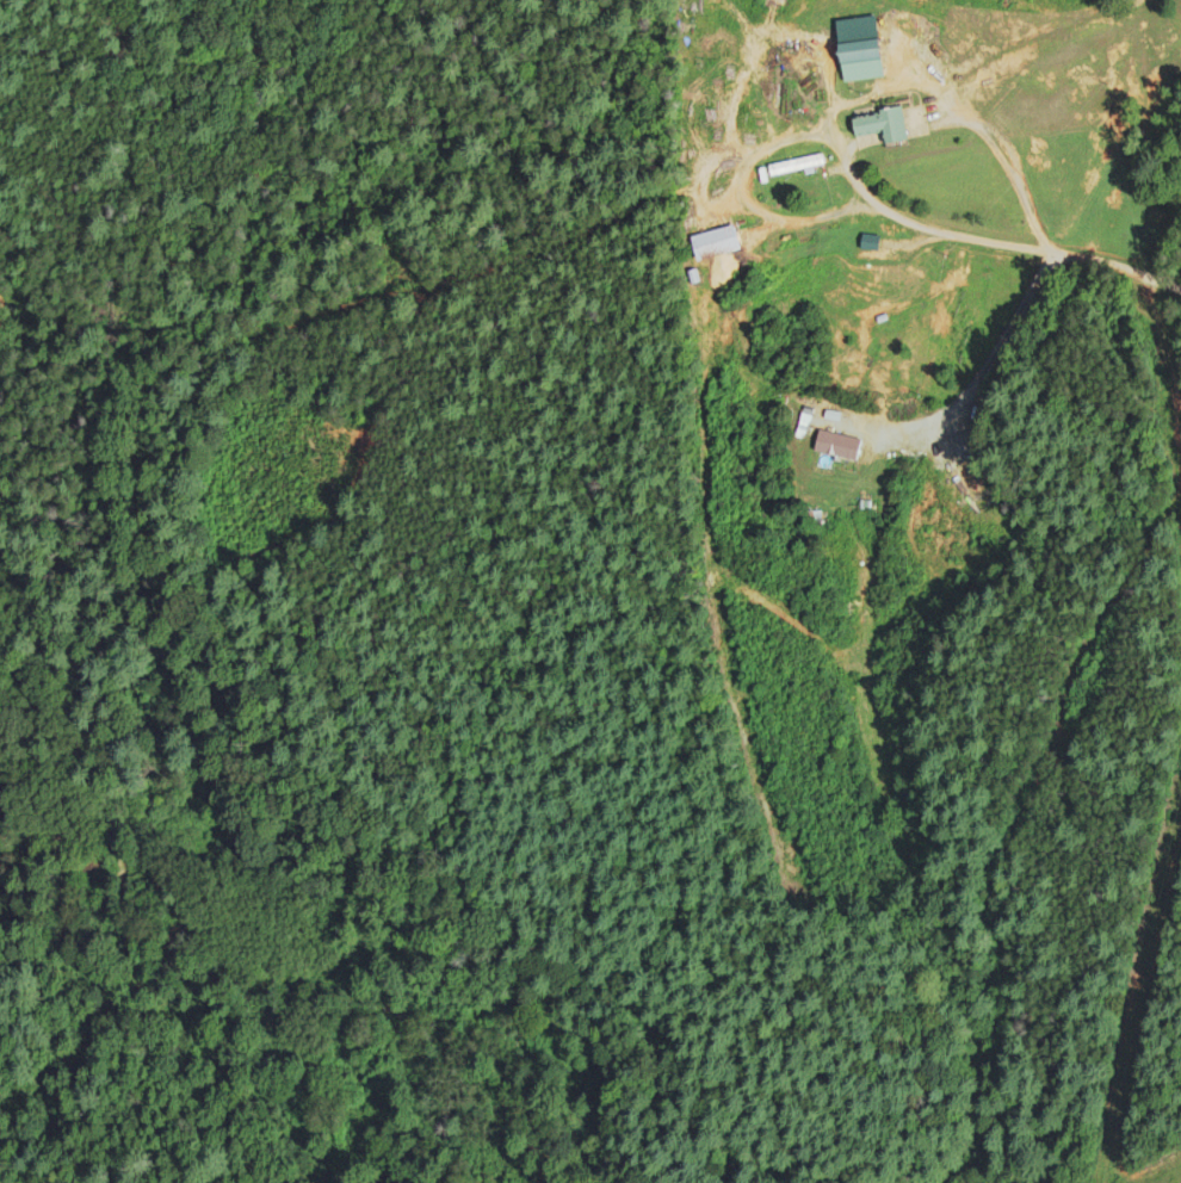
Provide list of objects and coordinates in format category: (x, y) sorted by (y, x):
building: (857, 61)
road: (835, 110)
building: (878, 125)
road: (1014, 161)
building: (791, 166)
road: (741, 191)
road: (921, 239)
building: (713, 243)
road: (998, 243)
road: (978, 378)
building: (799, 427)
building: (835, 446)

